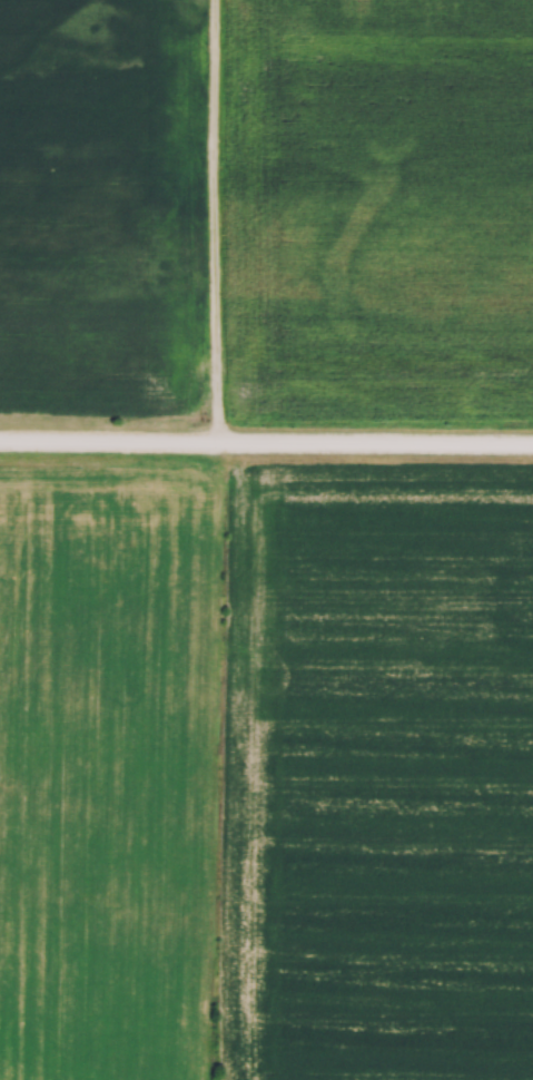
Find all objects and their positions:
road: (218, 222)
road: (266, 443)

